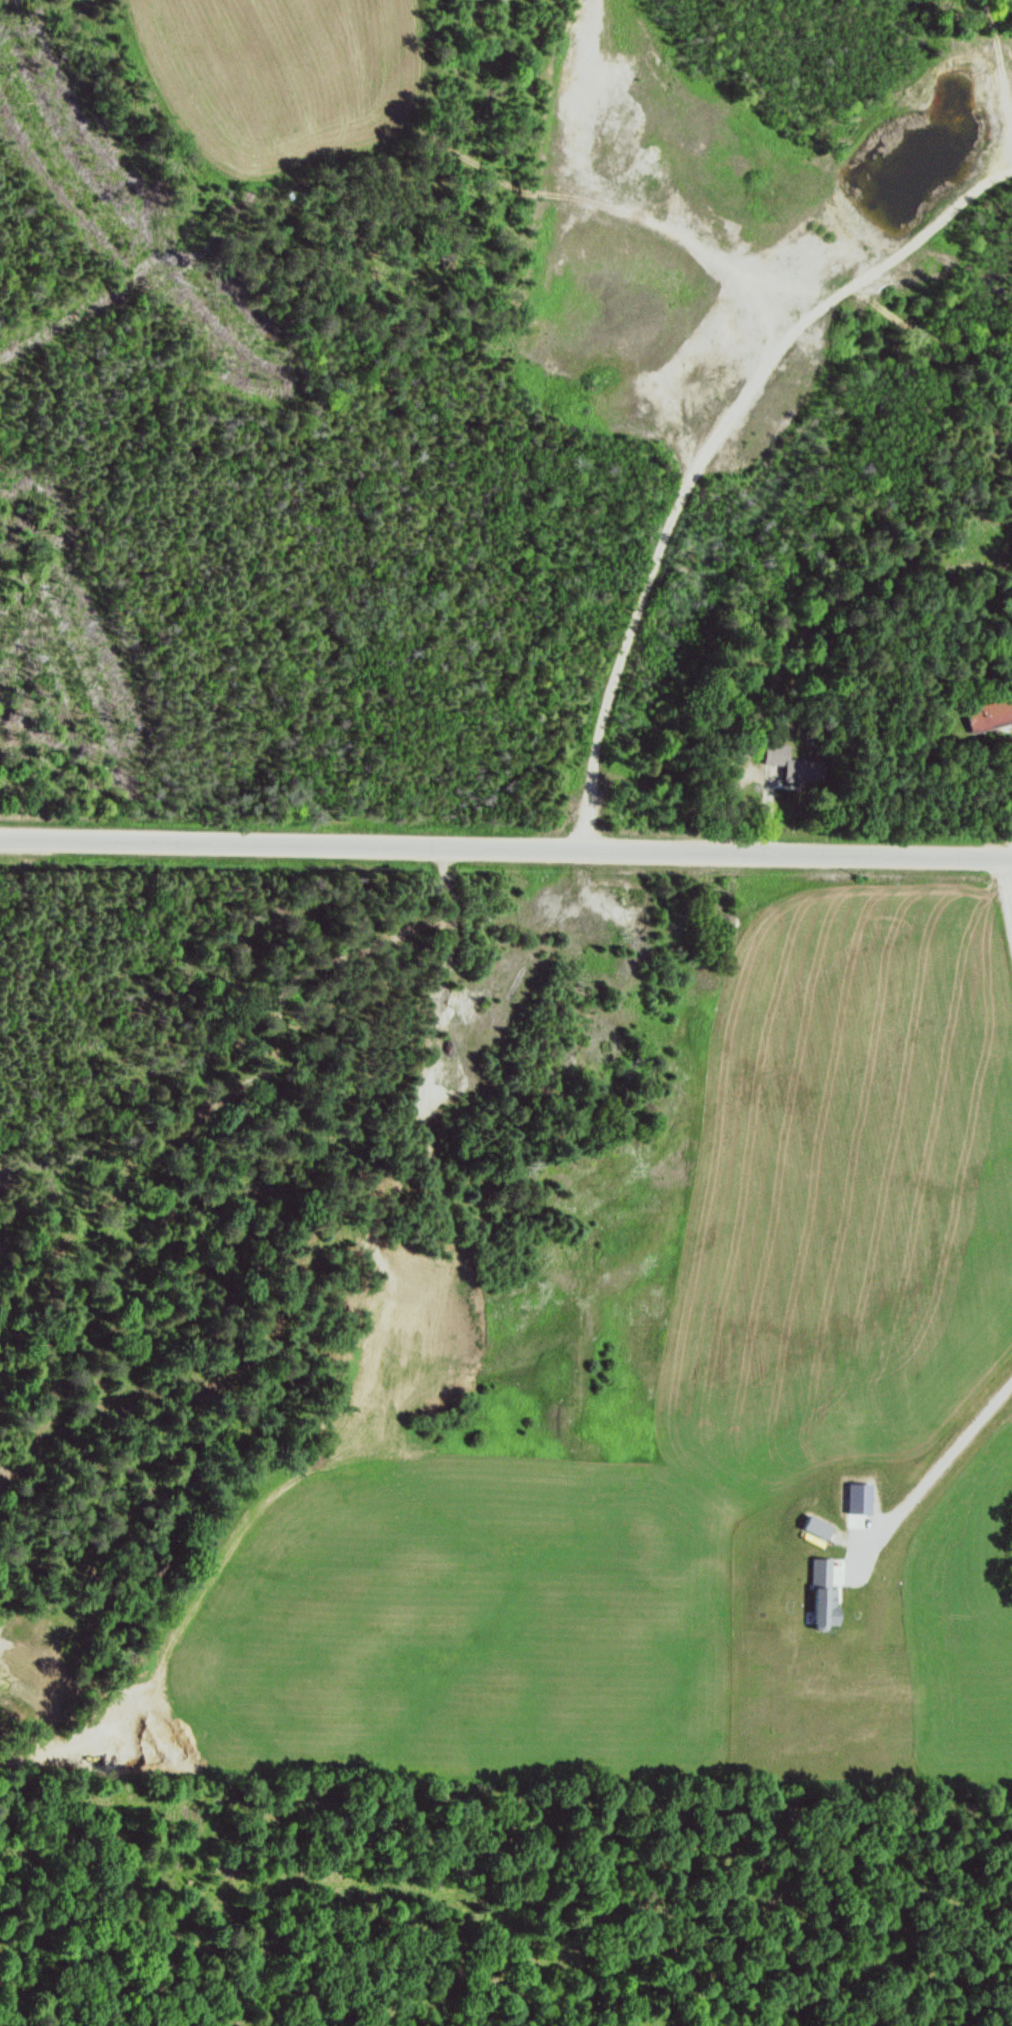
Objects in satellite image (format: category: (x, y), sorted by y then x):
road: (700, 449)
building: (990, 717)
building: (787, 767)
road: (506, 849)
road: (1006, 896)
road: (931, 1483)
building: (824, 1597)

